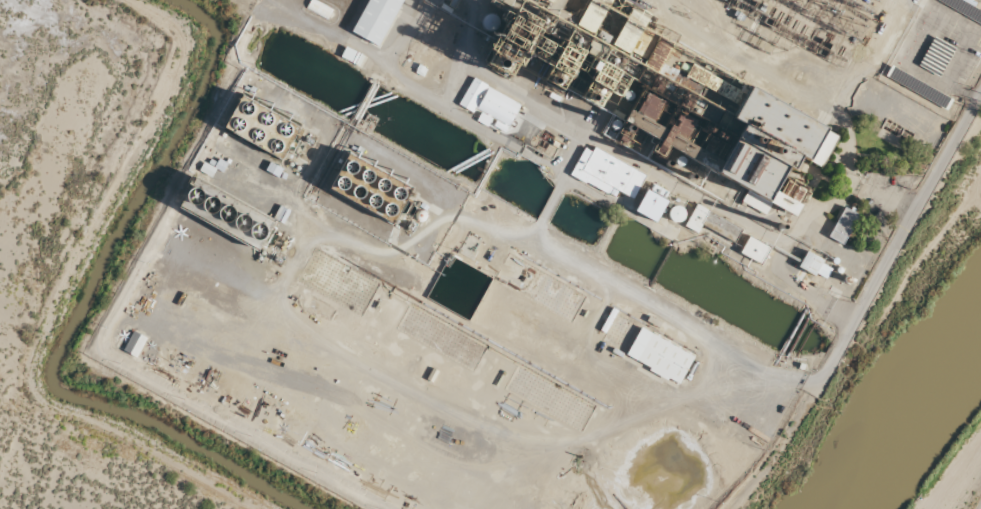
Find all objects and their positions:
building: (376, 19)
building: (933, 60)
chimney: (491, 61)
chimney: (545, 76)
chimney: (581, 90)
building: (490, 102)
building: (650, 106)
building: (483, 119)
chimney: (622, 126)
building: (259, 127)
chimney: (745, 139)
building: (741, 145)
chimney: (764, 150)
chimney: (666, 161)
building: (606, 173)
chimney: (687, 174)
building: (367, 187)
building: (790, 197)
building: (650, 205)
building: (223, 212)
building: (711, 223)
chimney: (777, 224)
building: (843, 225)
power plant: (534, 236)
road: (897, 236)
building: (754, 250)
building: (814, 266)
building: (134, 344)
building: (659, 356)
river: (923, 378)
road: (769, 457)
road: (979, 505)

